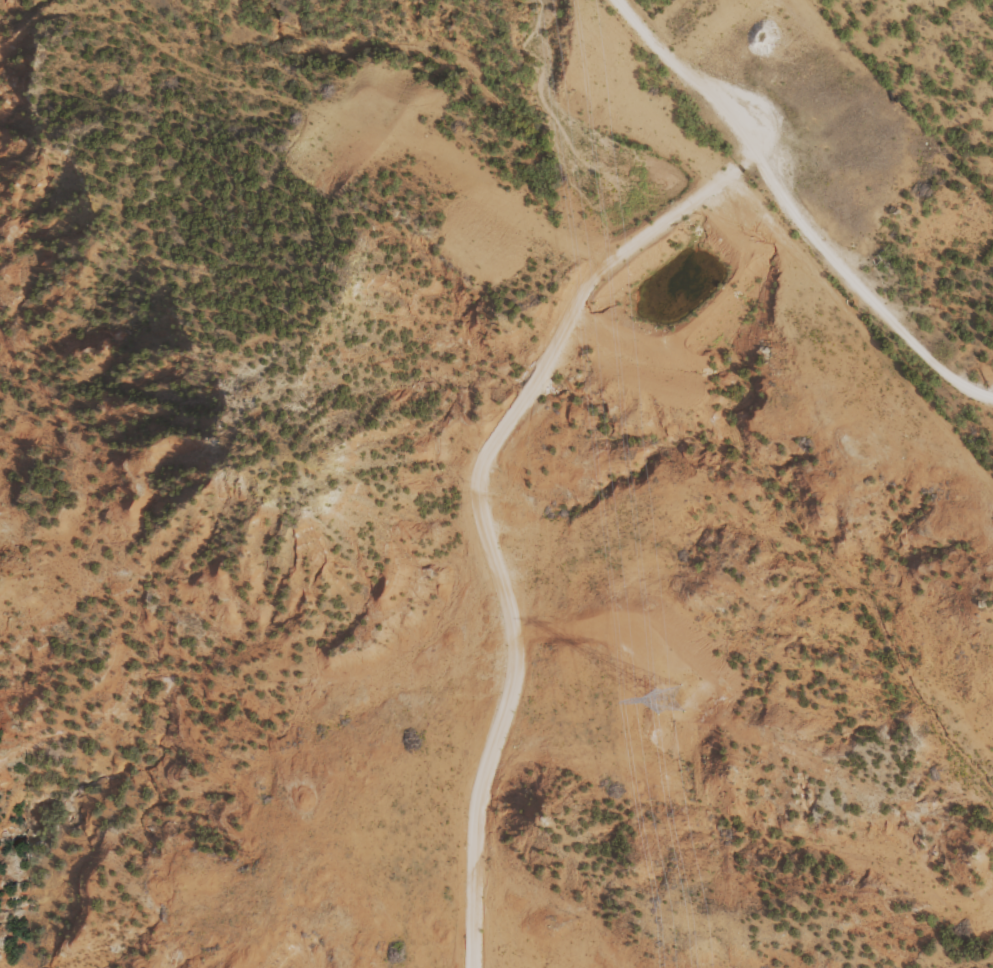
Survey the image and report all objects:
road: (802, 204)
power tower: (664, 700)

